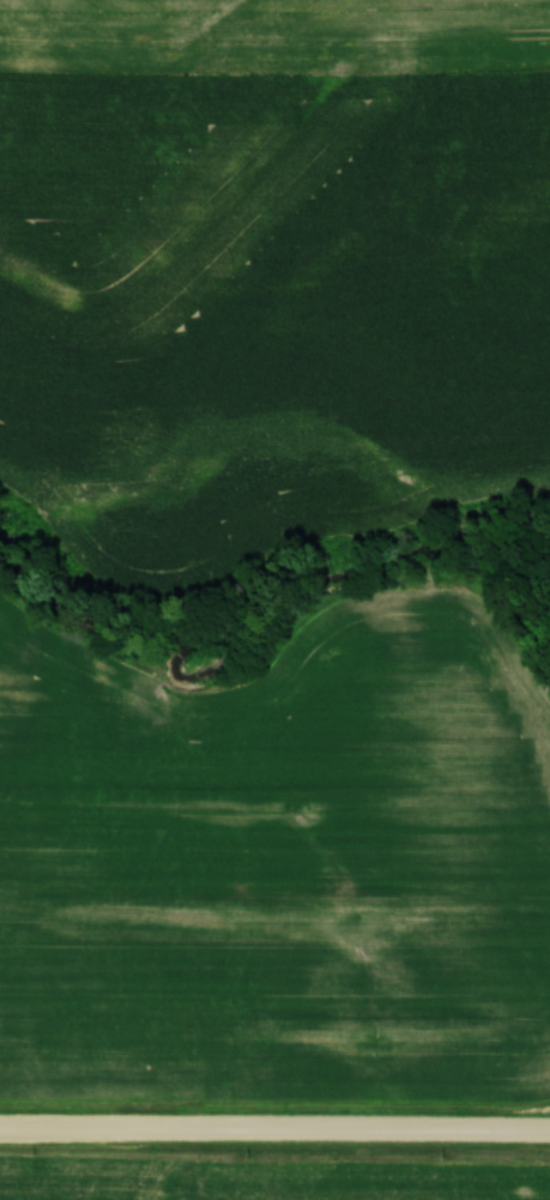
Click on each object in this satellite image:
road: (274, 1133)

